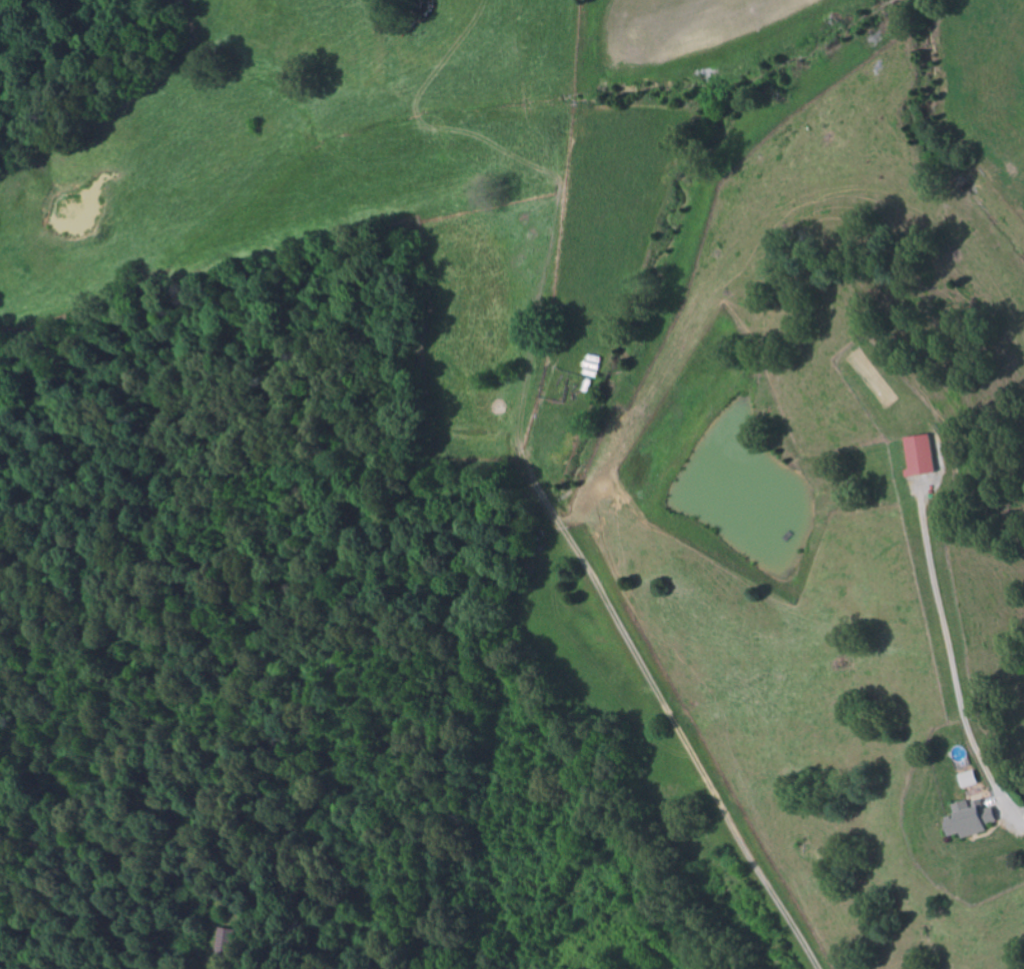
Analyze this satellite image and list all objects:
building: (924, 456)
road: (692, 754)
building: (973, 779)
building: (973, 817)

